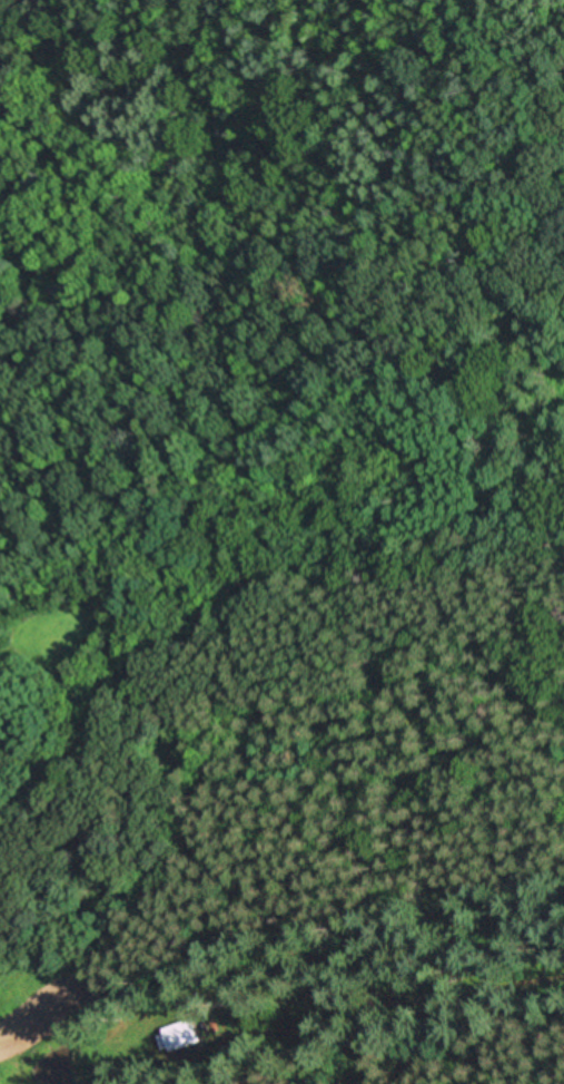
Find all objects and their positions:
building: (179, 1033)

